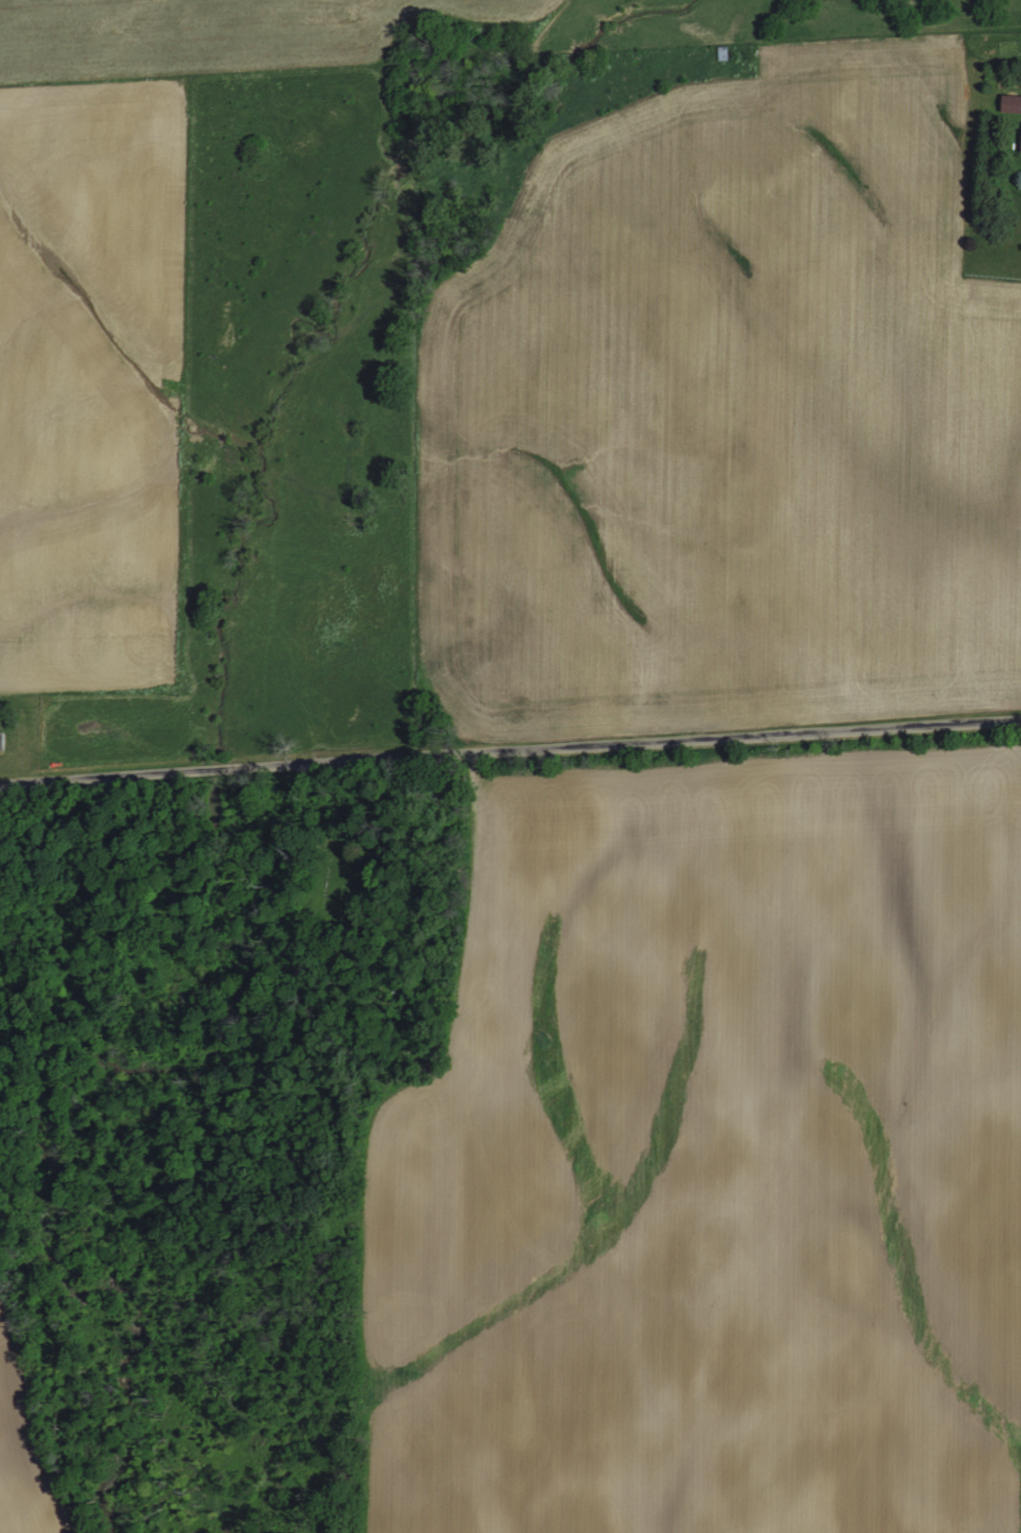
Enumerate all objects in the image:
building: (1010, 104)
building: (1020, 140)
building: (0, 742)
road: (510, 747)

